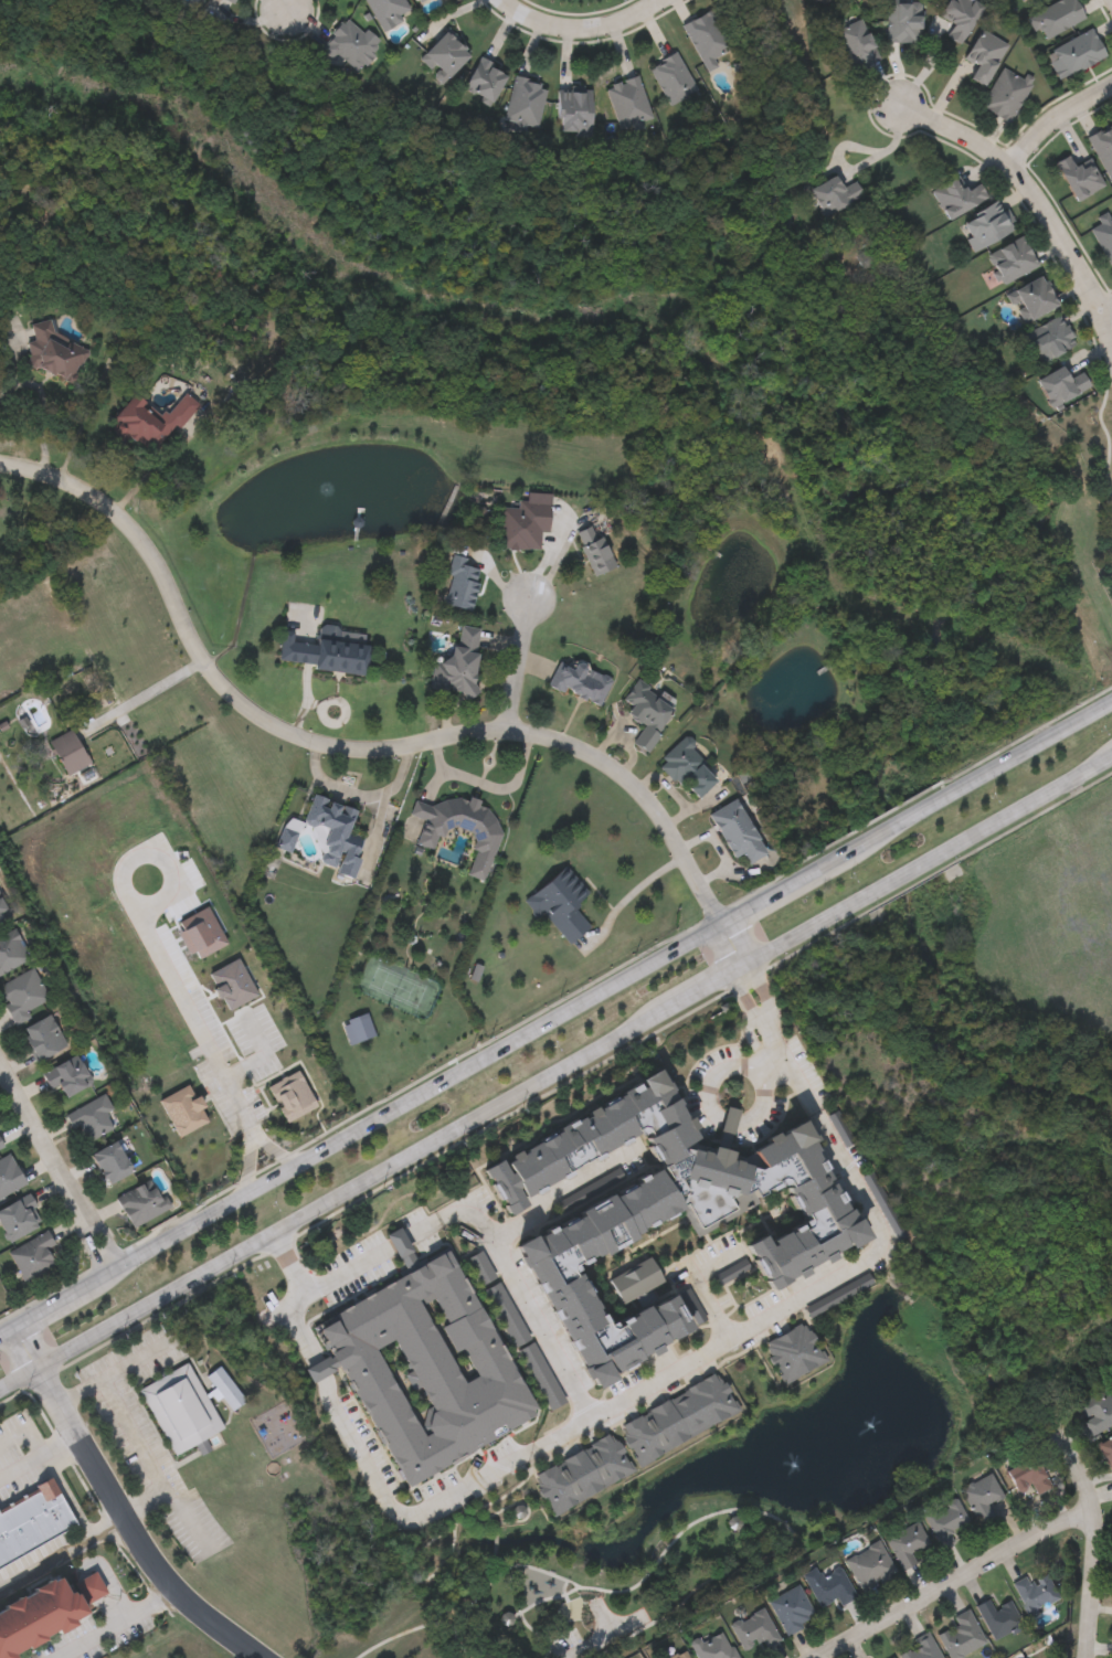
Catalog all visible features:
building: (230, 0)
building: (419, 0)
building: (816, 0)
building: (423, 1)
road: (1110, 3)
road: (288, 7)
building: (388, 11)
building: (1056, 14)
building: (959, 17)
building: (902, 21)
road: (582, 30)
building: (706, 38)
building: (854, 38)
building: (349, 45)
building: (1073, 52)
building: (447, 53)
building: (983, 55)
building: (673, 77)
building: (486, 78)
building: (1004, 93)
building: (526, 100)
building: (628, 102)
building: (575, 111)
road: (1050, 116)
building: (1102, 148)
building: (1078, 176)
building: (834, 193)
building: (956, 196)
road: (1029, 196)
building: (985, 226)
building: (1103, 236)
building: (1010, 259)
building: (1032, 298)
road: (1106, 311)
building: (1050, 338)
building: (51, 352)
building: (1062, 384)
building: (150, 421)
road: (159, 463)
park: (1080, 493)
building: (525, 521)
building: (594, 549)
building: (462, 584)
building: (324, 651)
building: (458, 665)
road: (523, 665)
building: (579, 680)
road: (144, 695)
building: (648, 713)
road: (1031, 748)
building: (68, 751)
road: (367, 752)
building: (689, 767)
road: (493, 787)
road: (1036, 801)
building: (459, 829)
road: (888, 830)
building: (739, 831)
building: (287, 833)
building: (336, 833)
road: (906, 876)
road: (639, 899)
building: (560, 902)
building: (1, 910)
building: (1, 920)
road: (155, 947)
building: (10, 950)
building: (21, 993)
building: (43, 1035)
road: (773, 1062)
building: (66, 1074)
road: (709, 1078)
road: (411, 1099)
road: (814, 1103)
building: (183, 1110)
building: (92, 1118)
building: (1, 1142)
road: (424, 1146)
road: (276, 1152)
building: (113, 1161)
road: (251, 1167)
road: (59, 1170)
building: (9, 1173)
road: (559, 1186)
building: (141, 1201)
building: (663, 1213)
building: (19, 1216)
road: (486, 1226)
building: (33, 1254)
building: (479, 1267)
building: (636, 1280)
building: (506, 1314)
building: (793, 1352)
building: (425, 1364)
road: (109, 1374)
building: (541, 1375)
building: (225, 1388)
building: (181, 1407)
building: (1098, 1411)
building: (677, 1418)
road: (29, 1432)
building: (1108, 1448)
road: (39, 1460)
road: (146, 1464)
road: (502, 1466)
building: (582, 1473)
building: (1030, 1476)
road: (138, 1496)
building: (982, 1497)
road: (118, 1507)
building: (32, 1520)
building: (946, 1521)
building: (907, 1542)
road: (1094, 1544)
road: (63, 1556)
building: (871, 1565)
park: (587, 1575)
road: (954, 1581)
building: (830, 1586)
building: (1038, 1593)
building: (793, 1608)
building: (45, 1613)
building: (999, 1618)
road: (117, 1625)
building: (754, 1630)
building: (962, 1636)
building: (714, 1646)
building: (921, 1649)
building: (680, 1655)
building: (889, 1656)

